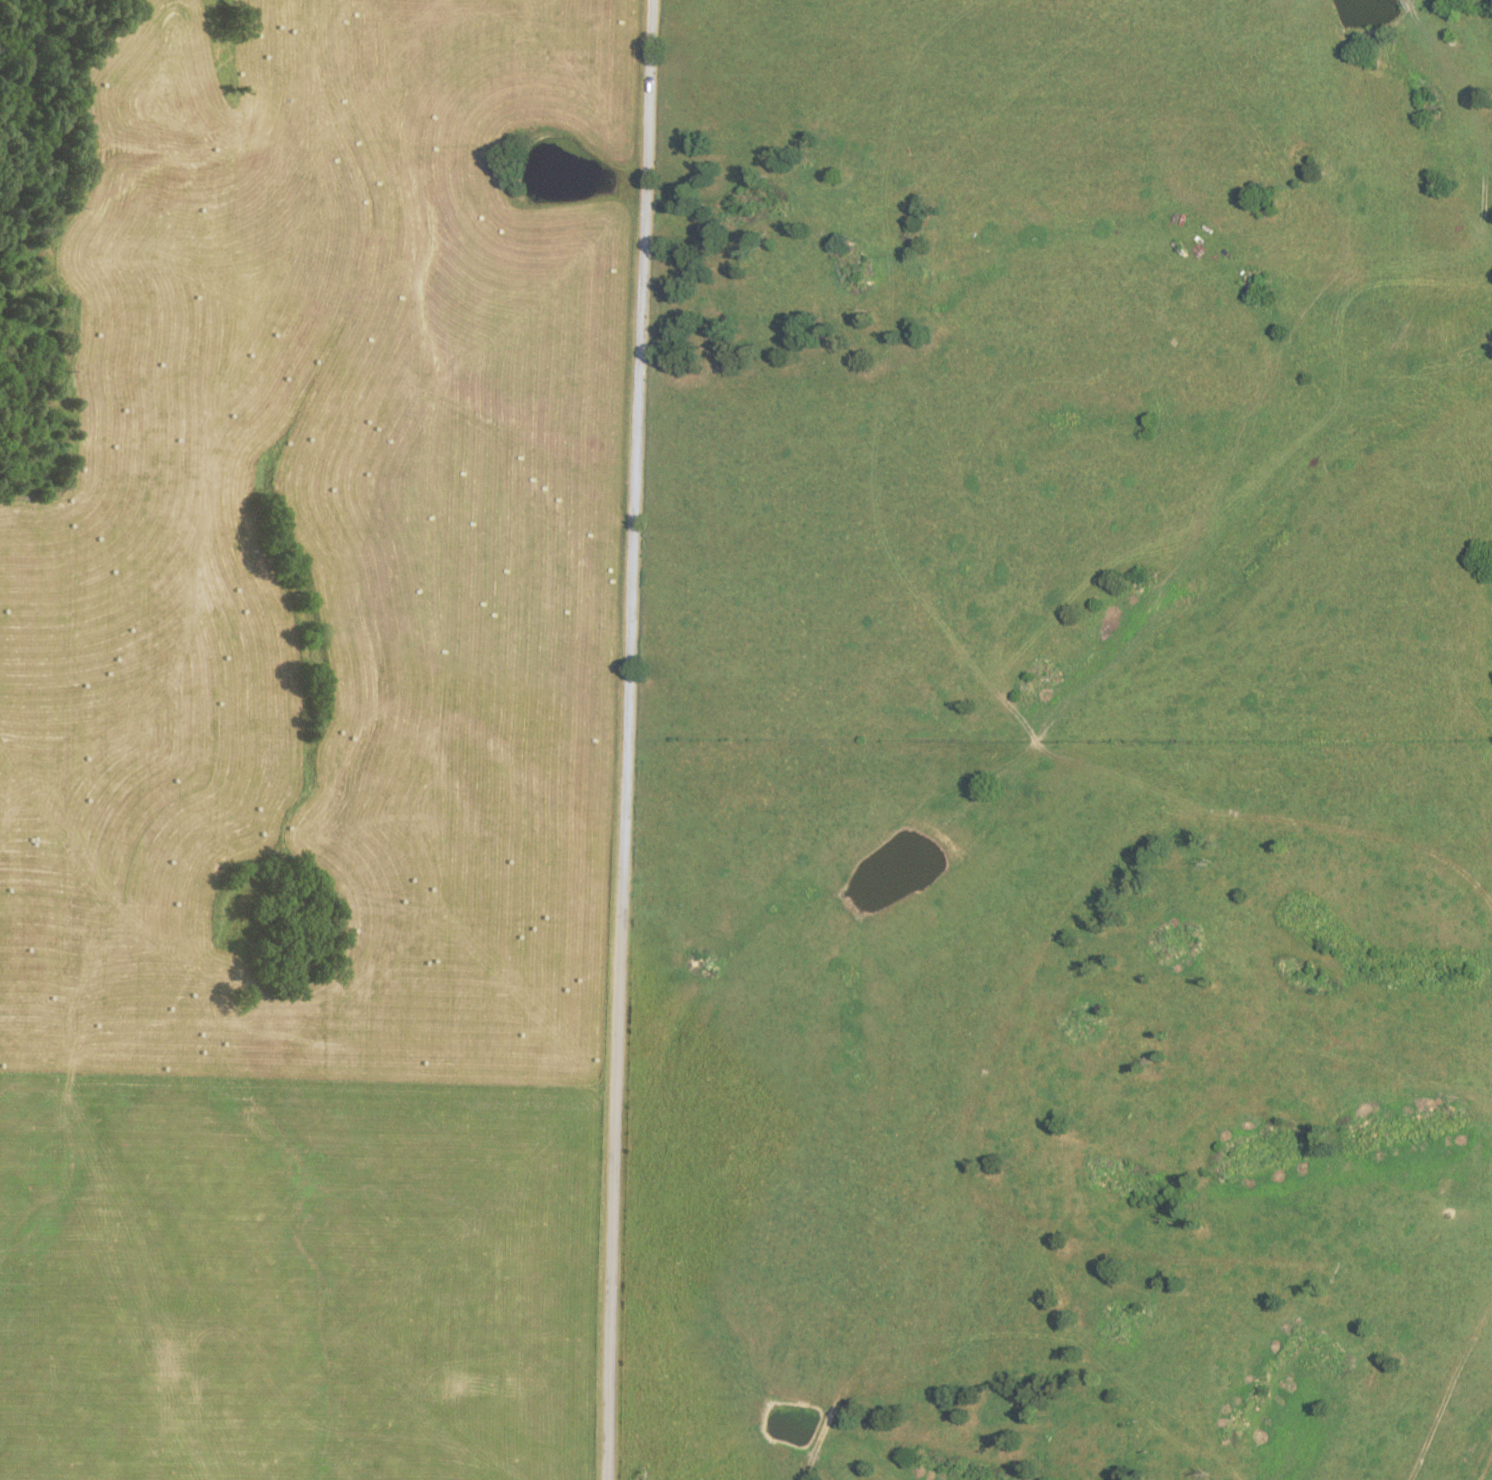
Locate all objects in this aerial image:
road: (624, 739)

